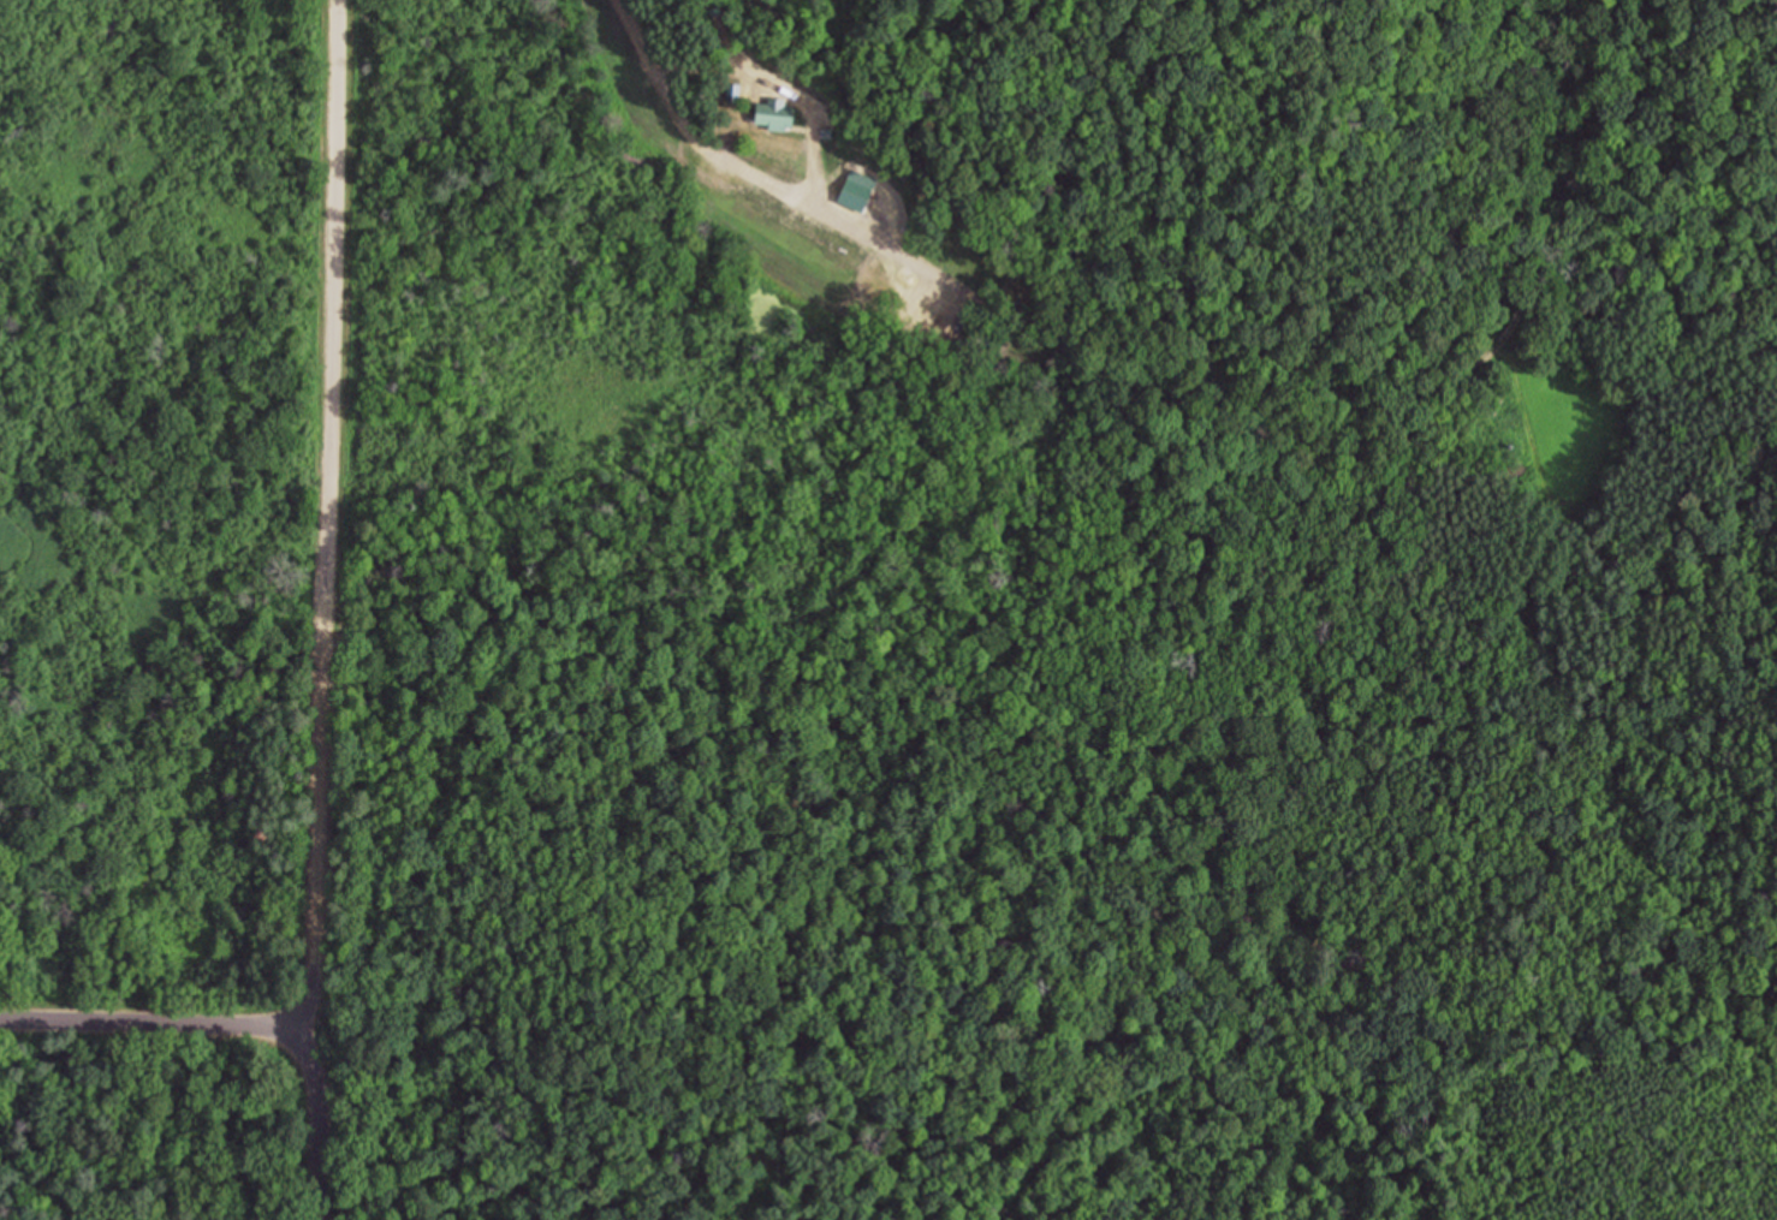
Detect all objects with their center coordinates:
building: (775, 118)
road: (748, 169)
road: (329, 514)
road: (160, 1022)
road: (321, 1125)

